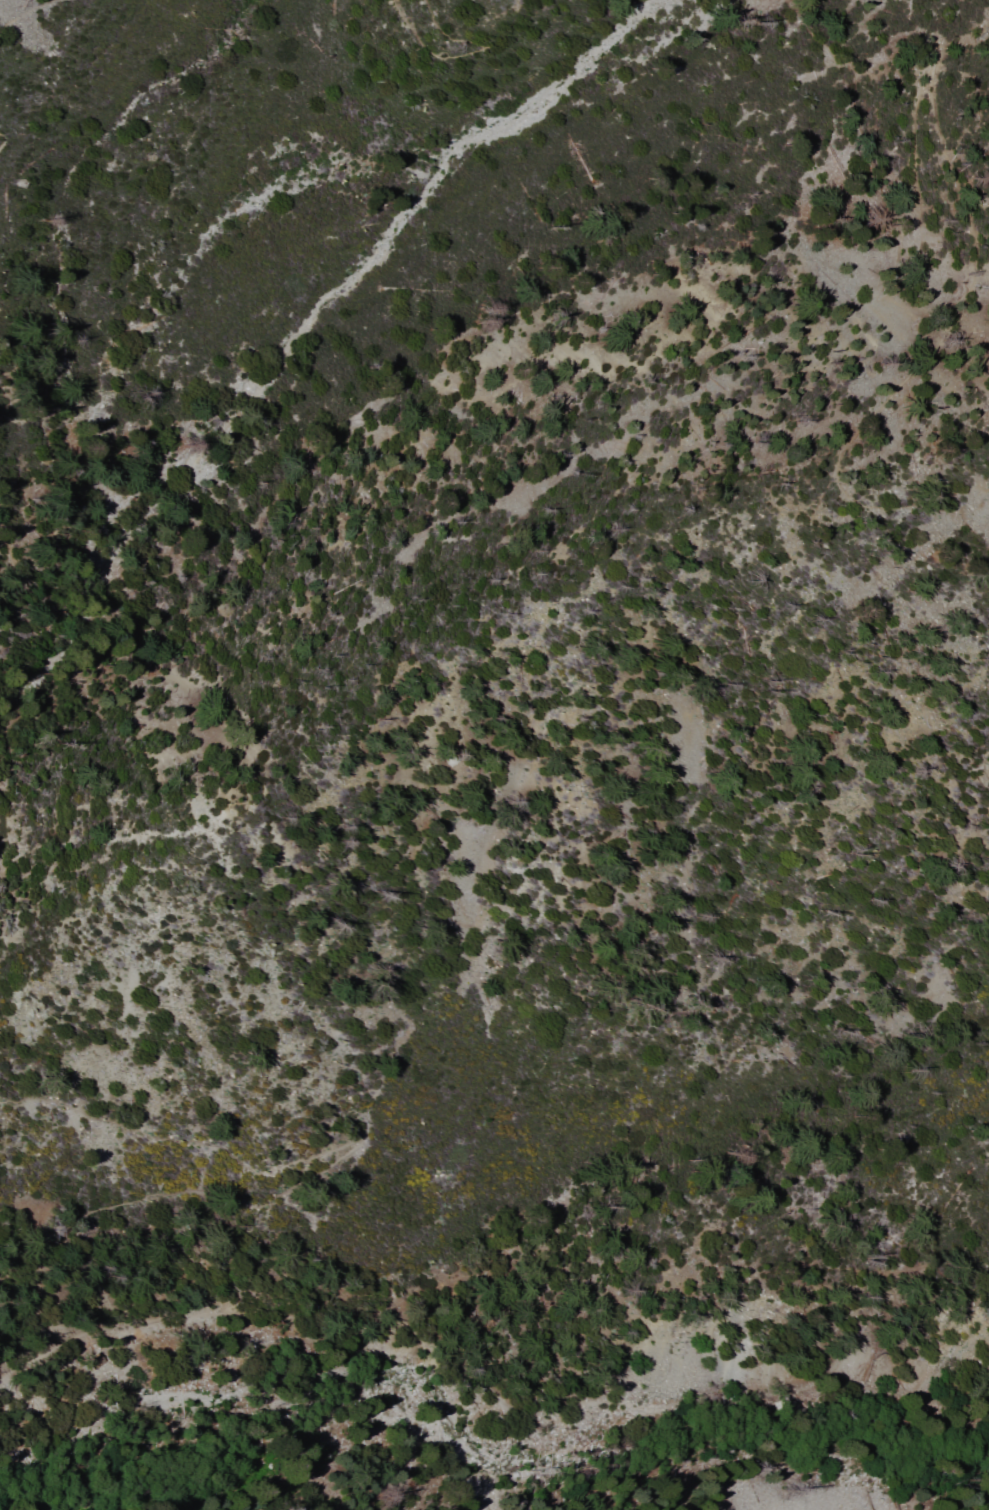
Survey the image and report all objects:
road: (30, 12)
road: (472, 54)
road: (933, 97)
road: (2, 139)
road: (1, 313)
road: (46, 422)
road: (80, 648)
road: (354, 1149)
road: (92, 1319)
building: (419, 1322)
building: (188, 1354)
building: (108, 1361)
road: (479, 1387)
building: (7, 1433)

